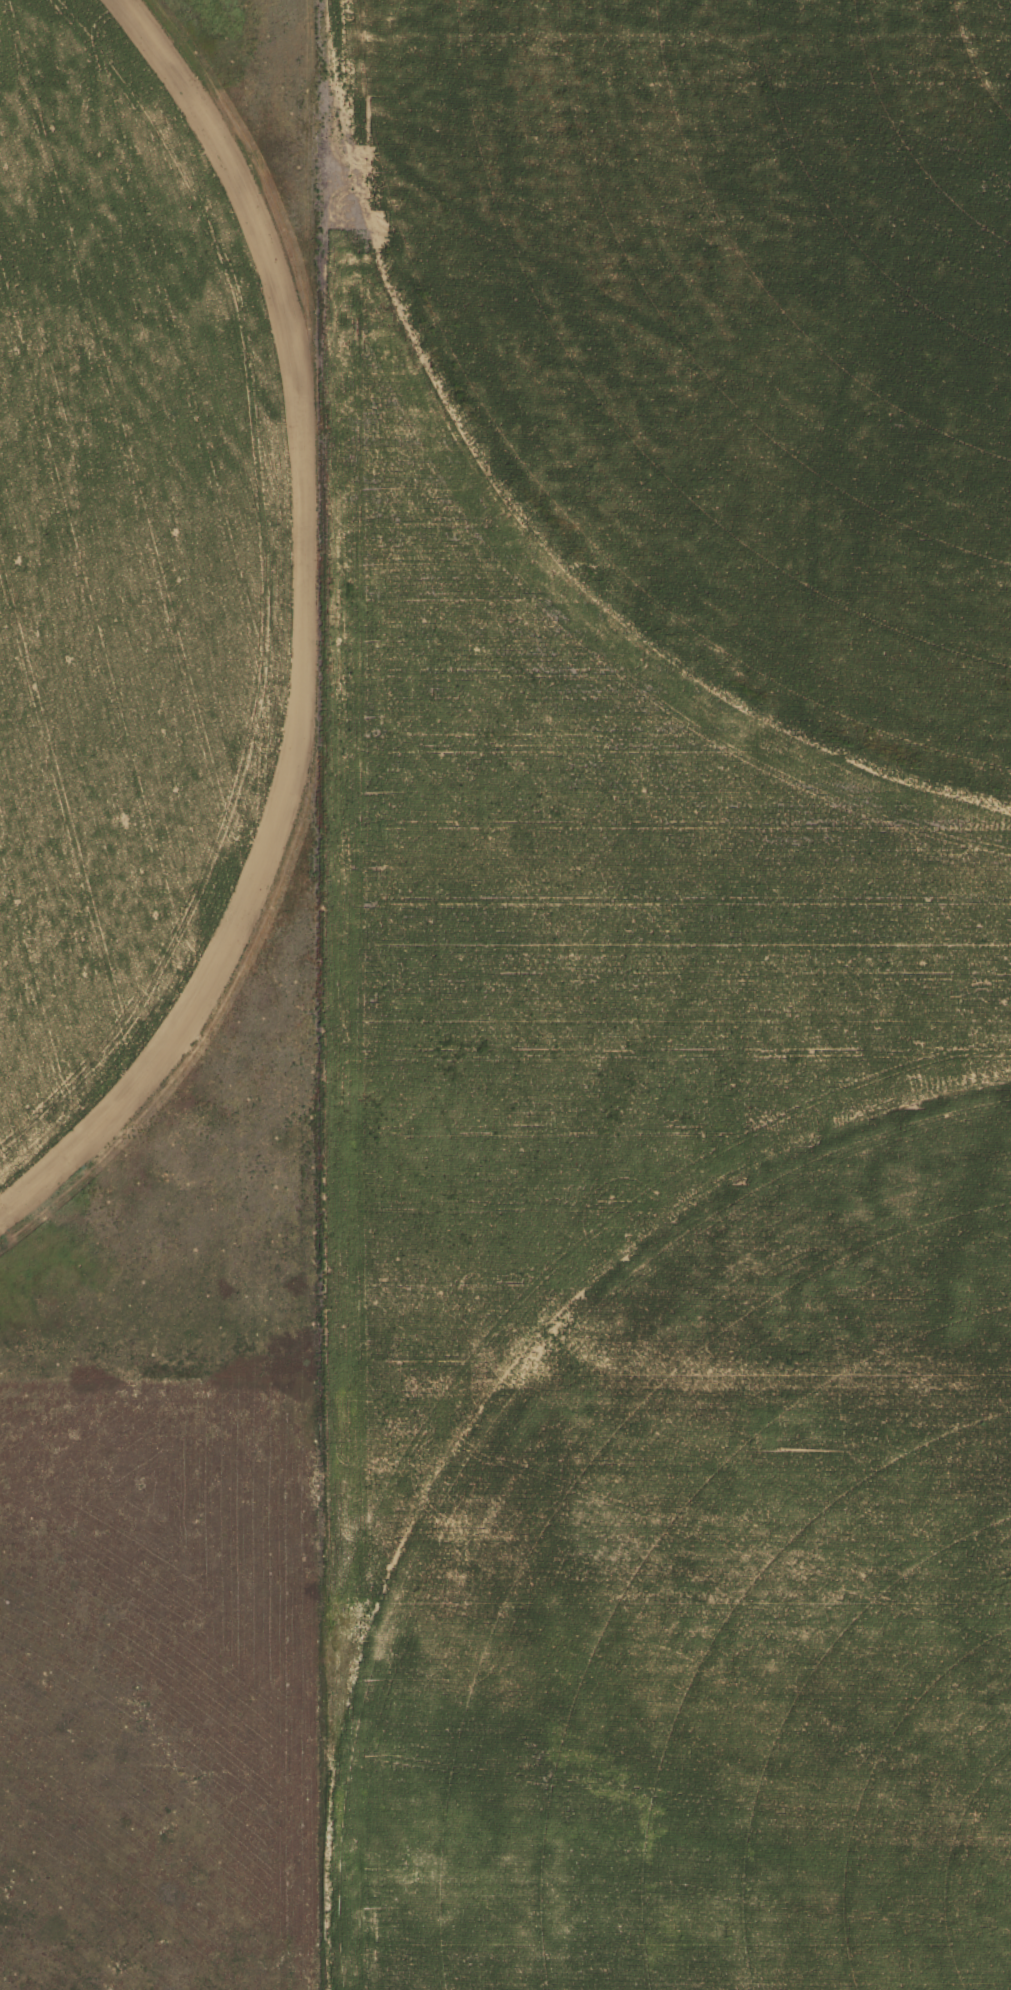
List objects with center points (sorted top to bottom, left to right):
road: (176, 1317)

